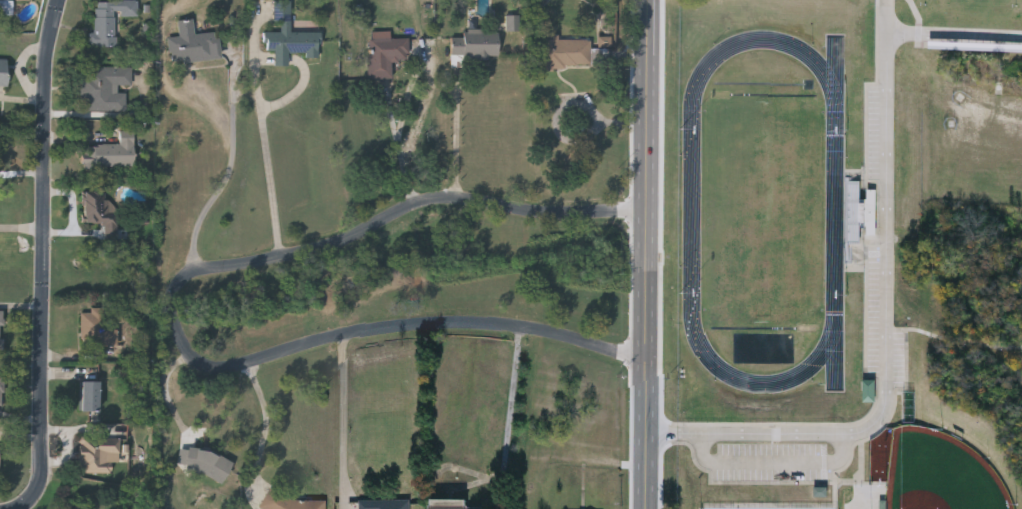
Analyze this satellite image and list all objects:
building: (264, 0)
building: (5, 6)
building: (109, 20)
road: (953, 34)
building: (289, 37)
building: (476, 43)
building: (192, 44)
building: (564, 52)
building: (386, 55)
building: (3, 71)
building: (104, 88)
parking lot: (873, 134)
road: (456, 136)
road: (403, 150)
building: (108, 153)
road: (270, 161)
road: (233, 169)
building: (100, 209)
track: (692, 213)
building: (862, 214)
road: (20, 229)
road: (40, 252)
road: (648, 254)
road: (179, 314)
parking lot: (880, 327)
building: (96, 329)
building: (1, 330)
road: (886, 330)
road: (953, 342)
building: (1, 391)
building: (869, 392)
building: (89, 396)
road: (513, 402)
road: (346, 423)
road: (267, 428)
building: (98, 456)
parking lot: (770, 464)
building: (207, 465)
park: (940, 474)
building: (294, 503)
building: (384, 504)
building: (451, 504)
road: (23, 506)

